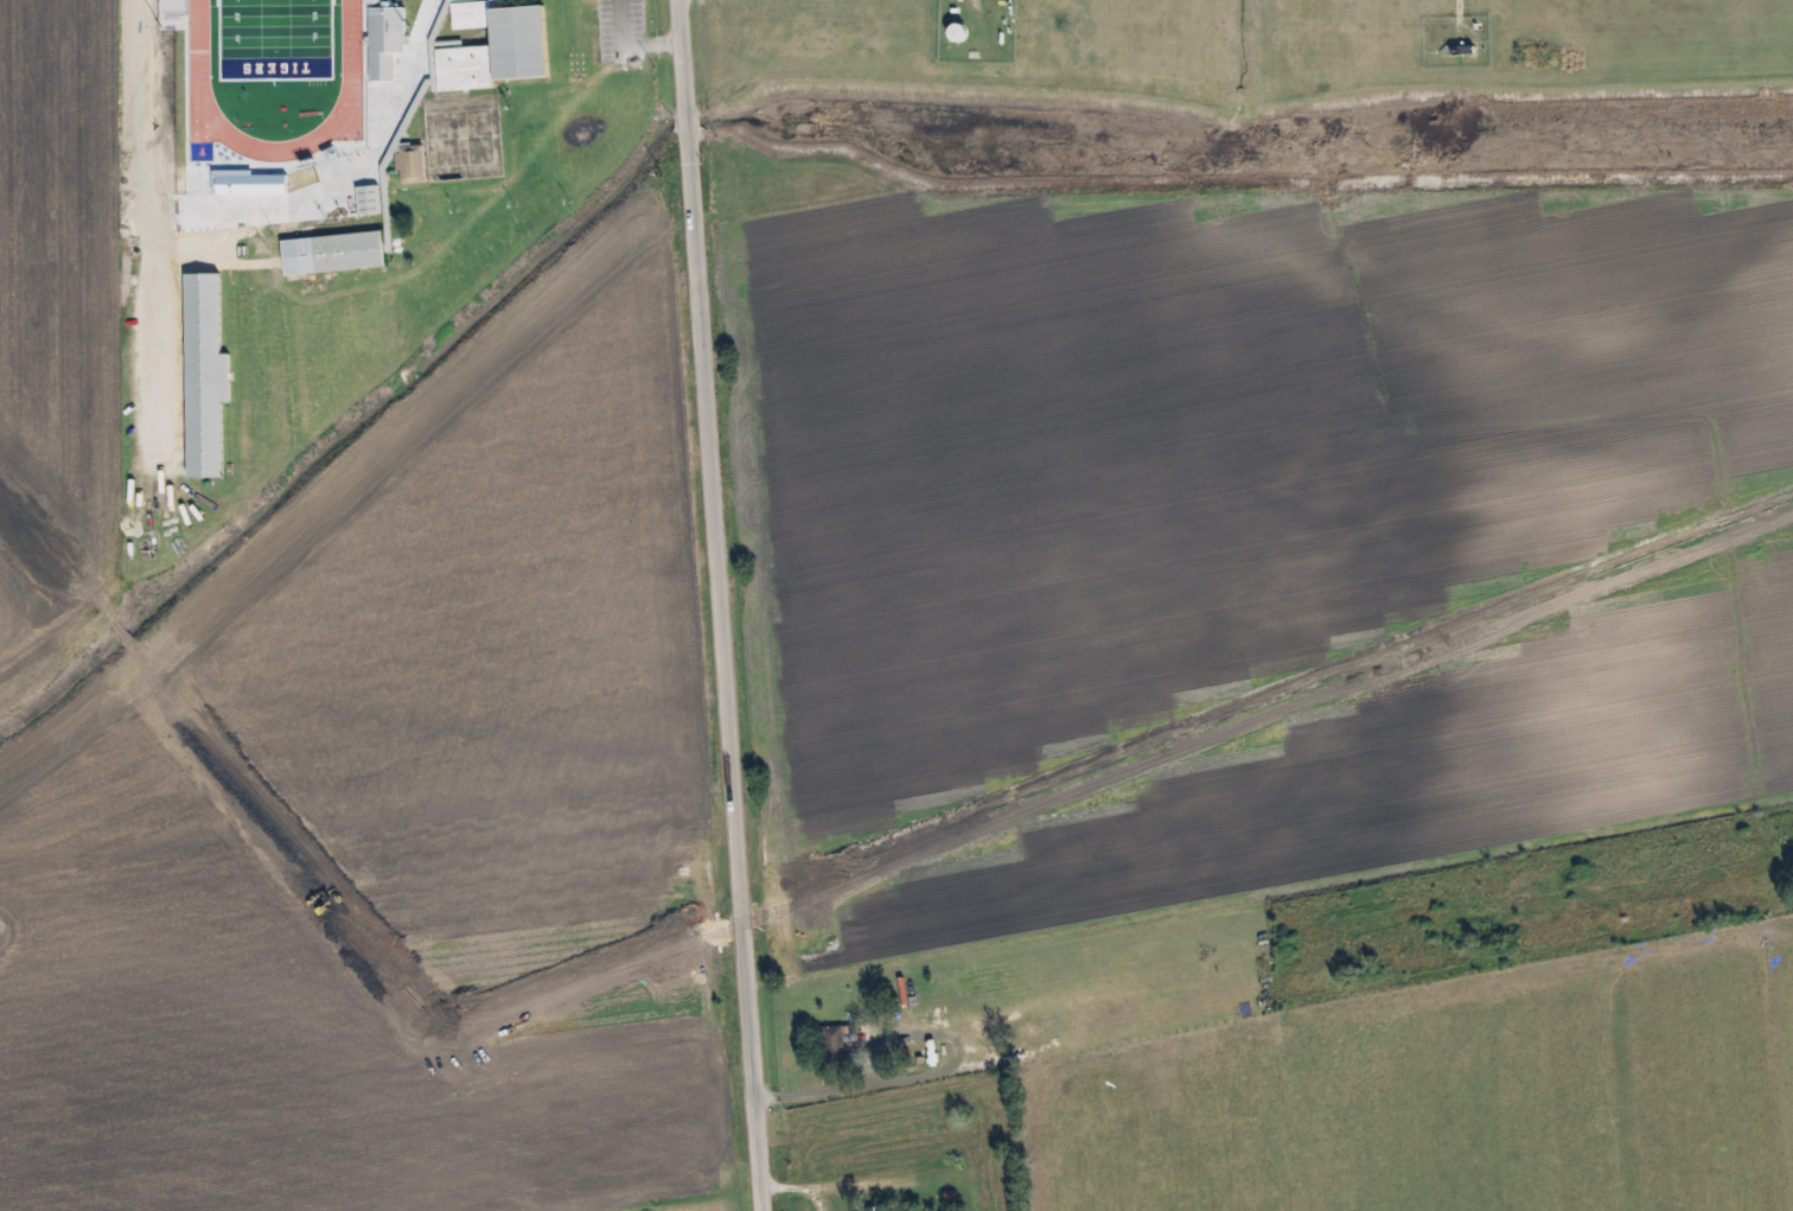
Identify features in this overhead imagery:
park: (277, 37)
building: (511, 38)
building: (388, 44)
building: (467, 70)
track: (353, 76)
building: (414, 166)
road: (256, 181)
building: (249, 185)
building: (370, 203)
building: (336, 255)
building: (208, 378)
road: (721, 605)
building: (843, 1043)

